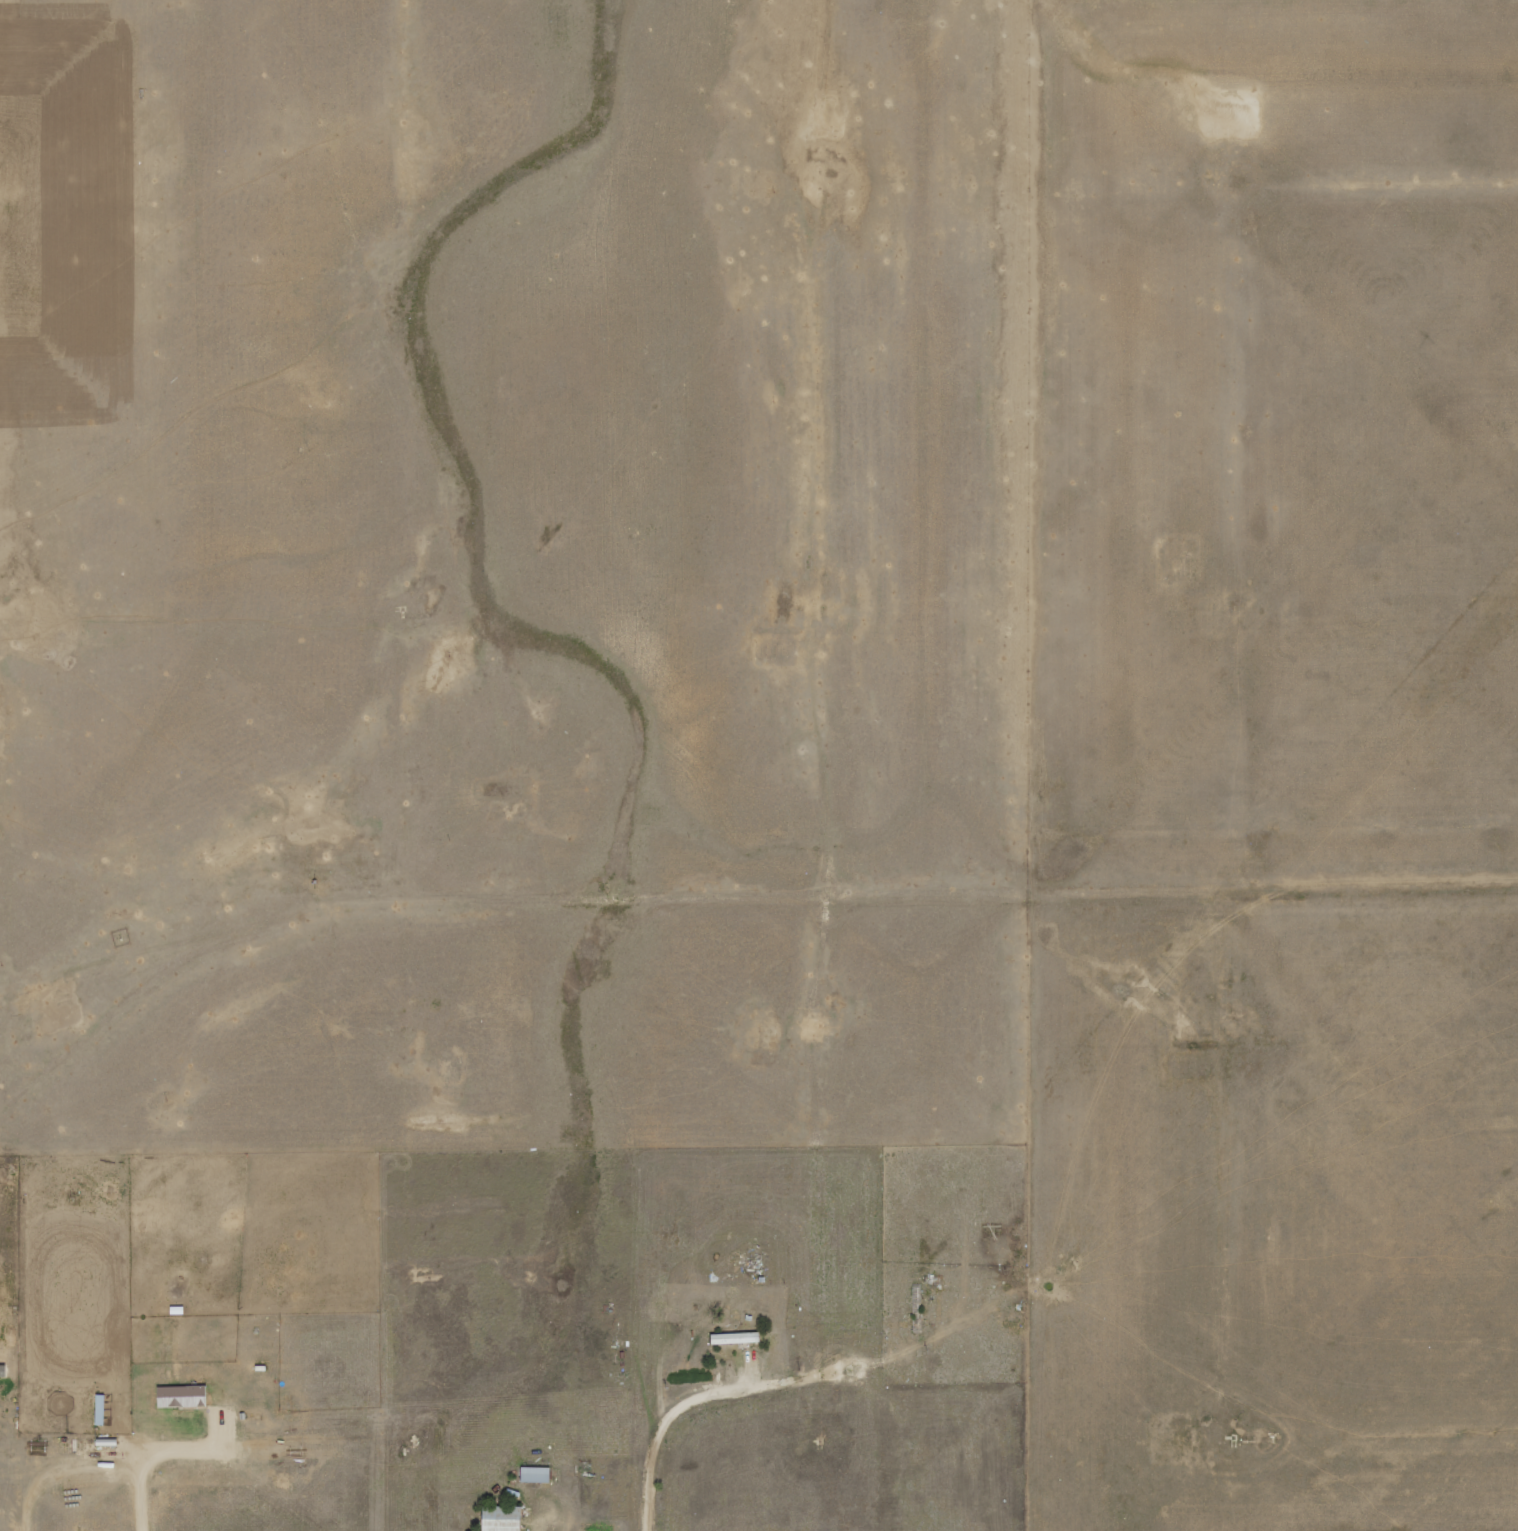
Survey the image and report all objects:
building: (734, 1337)
building: (181, 1395)
building: (535, 1474)
building: (500, 1518)

